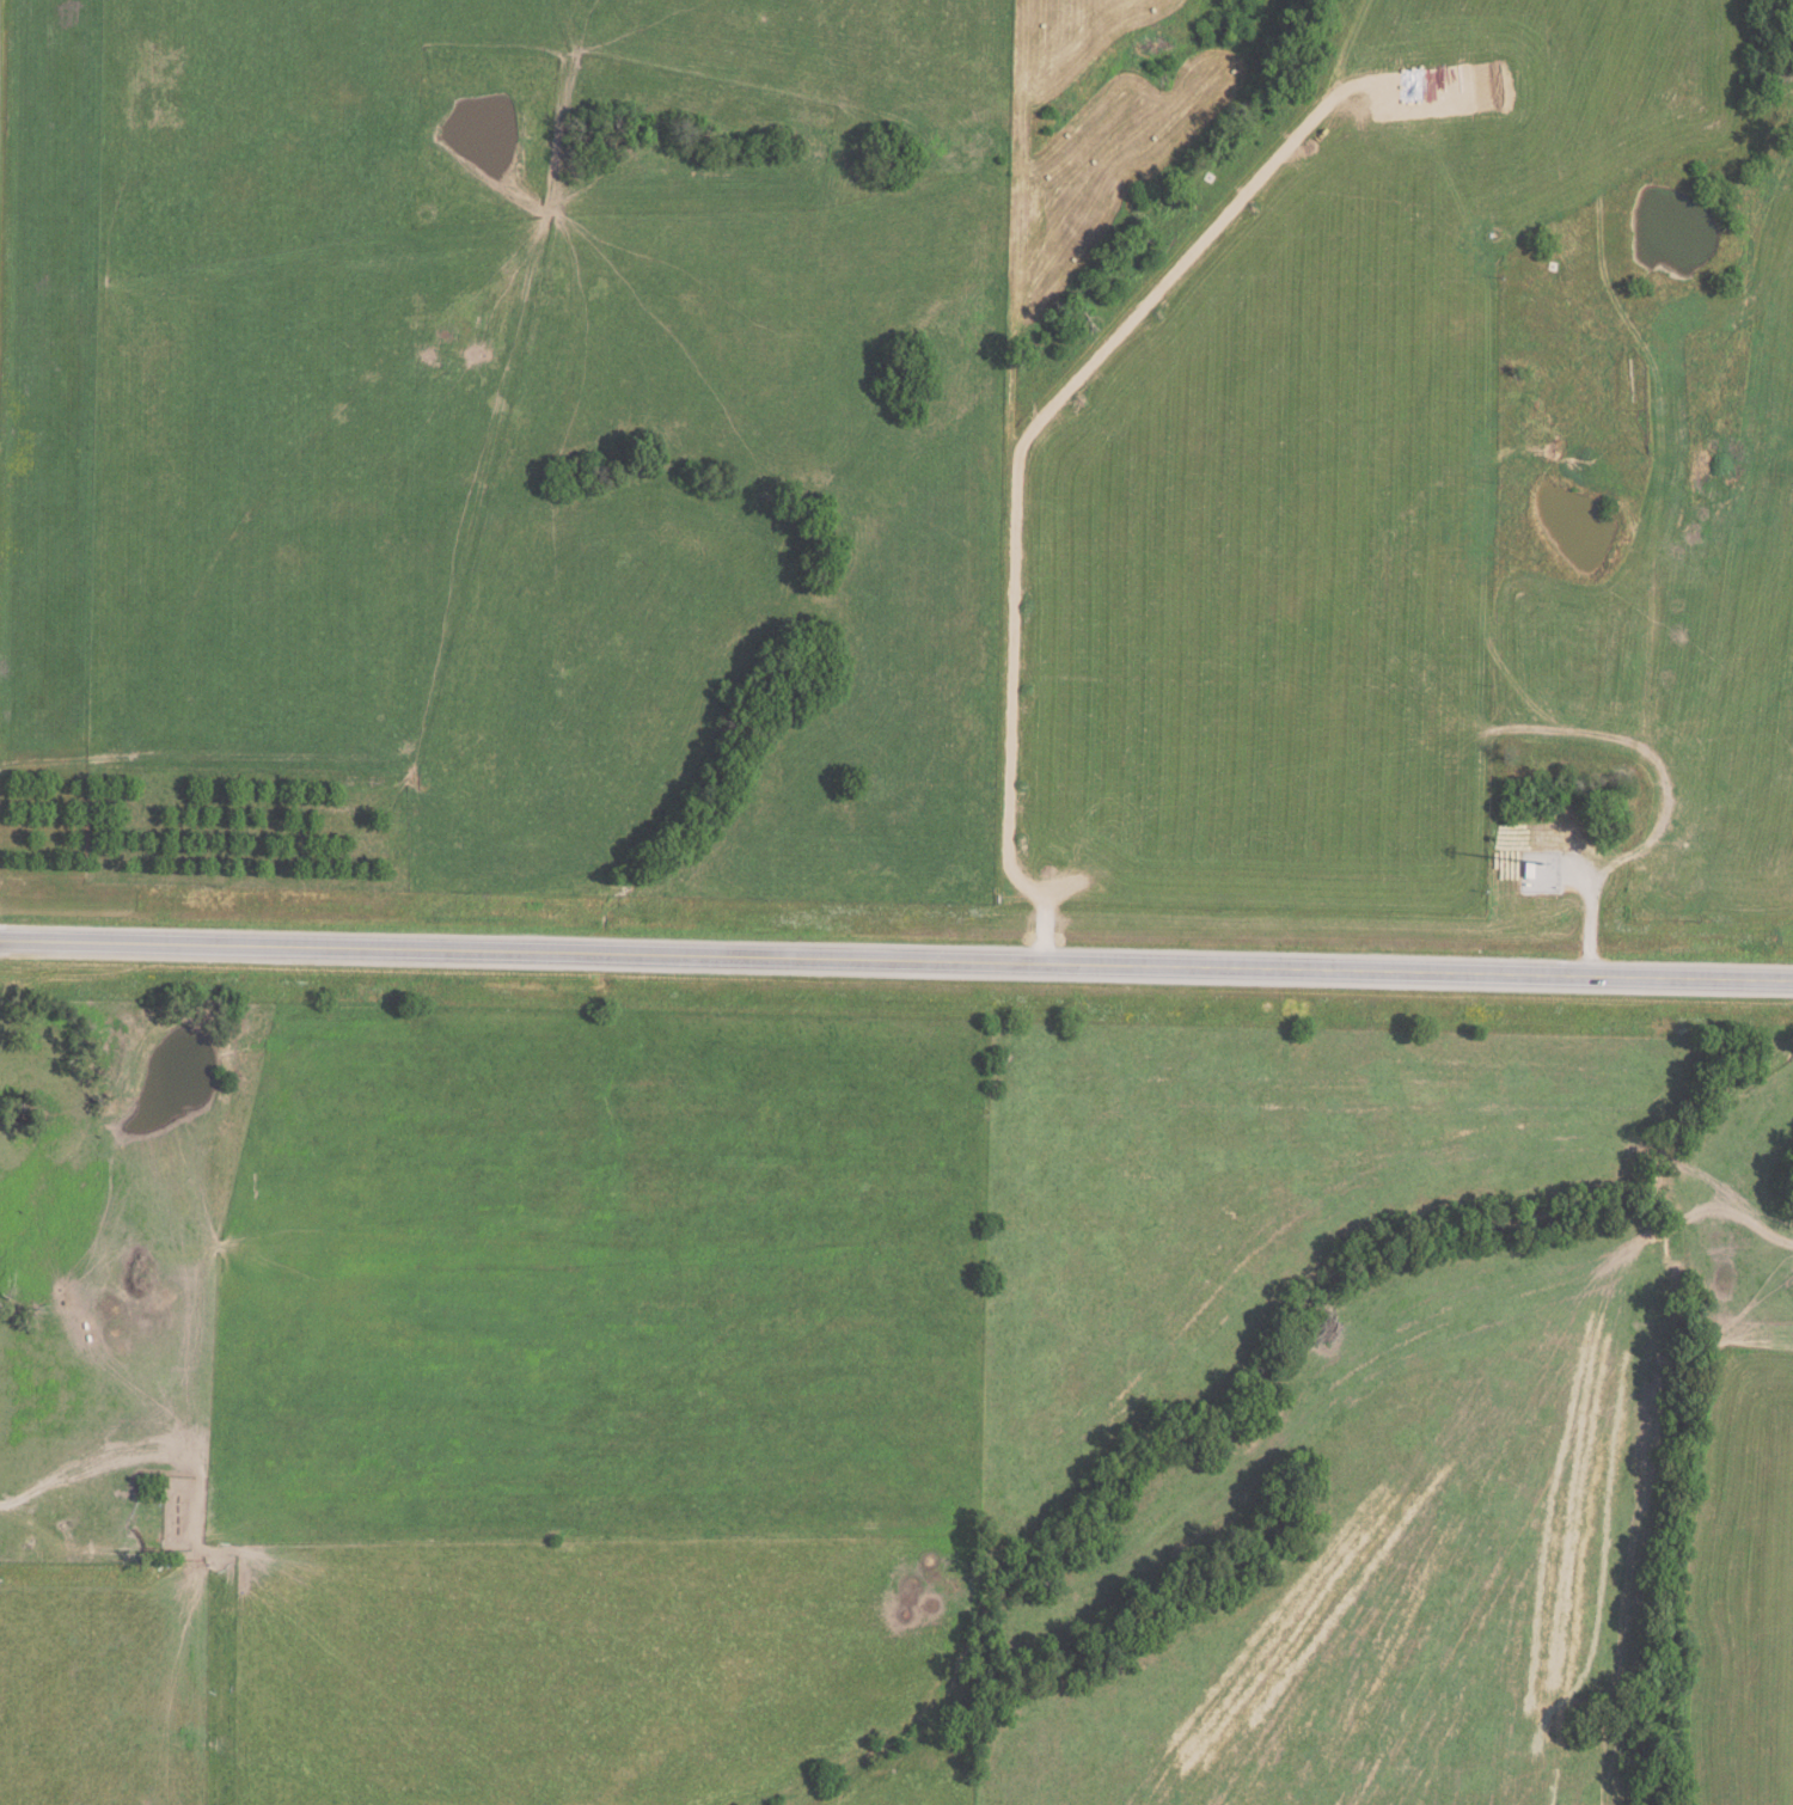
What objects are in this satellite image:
road: (896, 961)

